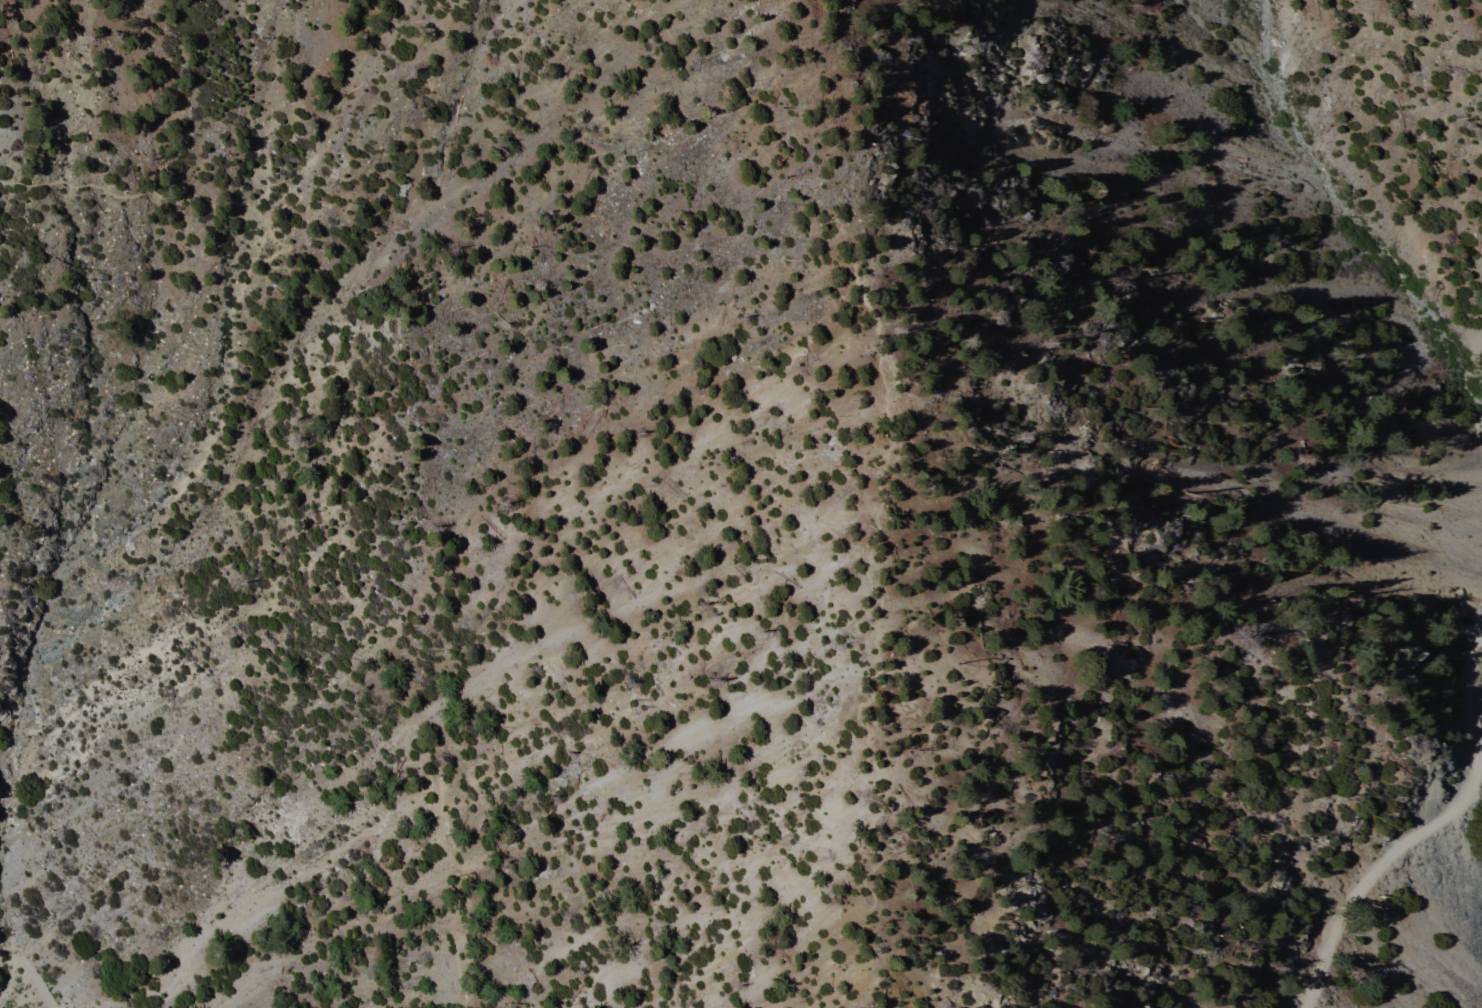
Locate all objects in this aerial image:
road: (331, 448)
road: (876, 512)
road: (1429, 828)
ski resort: (1466, 950)
road: (31, 973)

